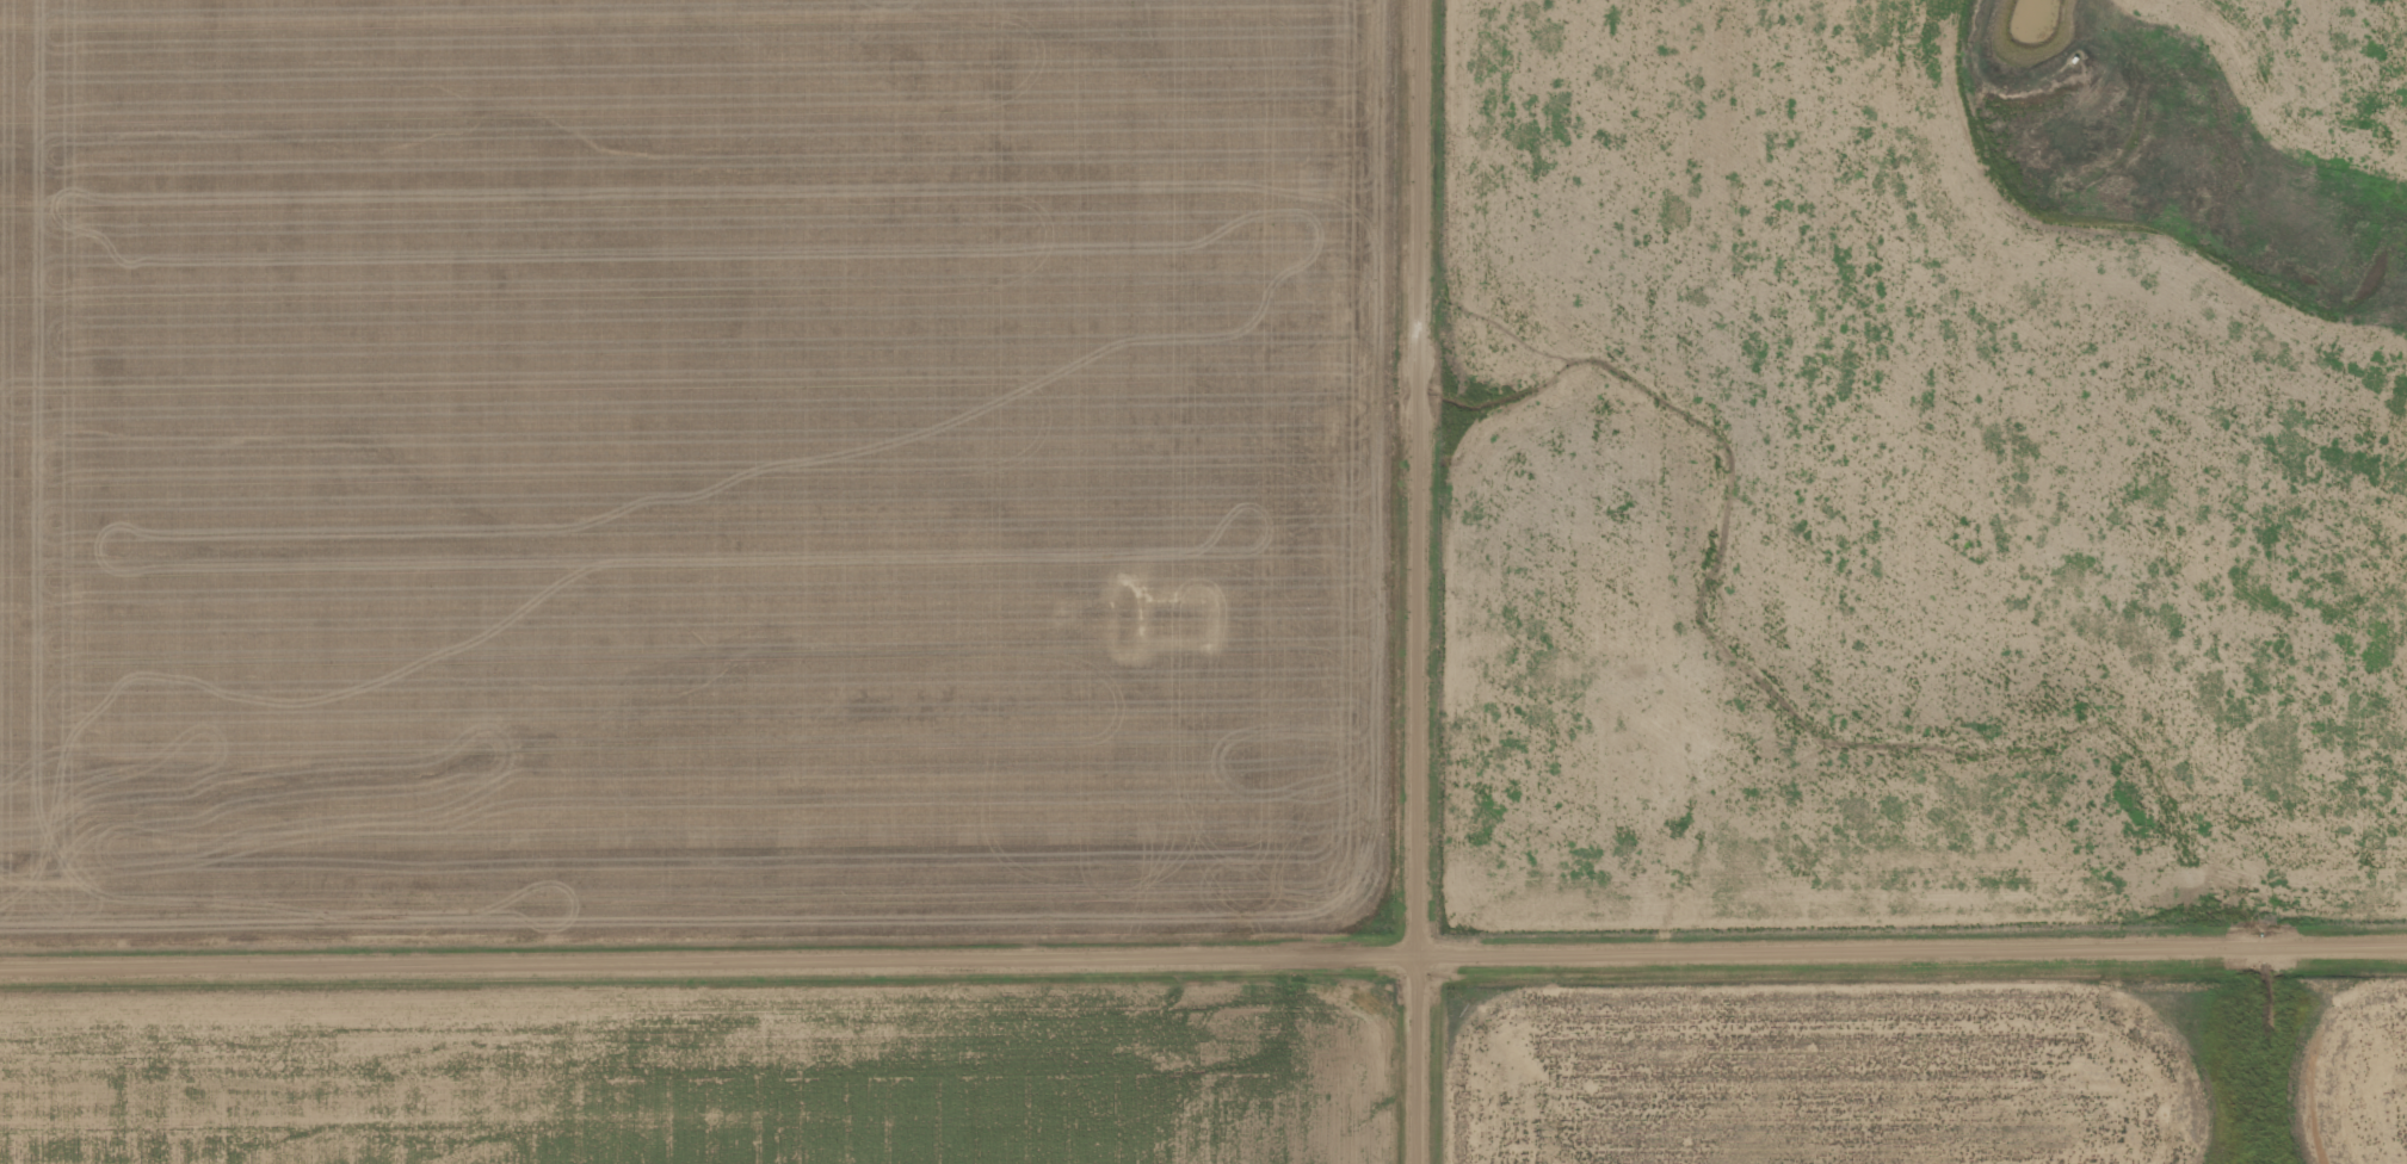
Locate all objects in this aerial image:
road: (1424, 582)
road: (1203, 955)

